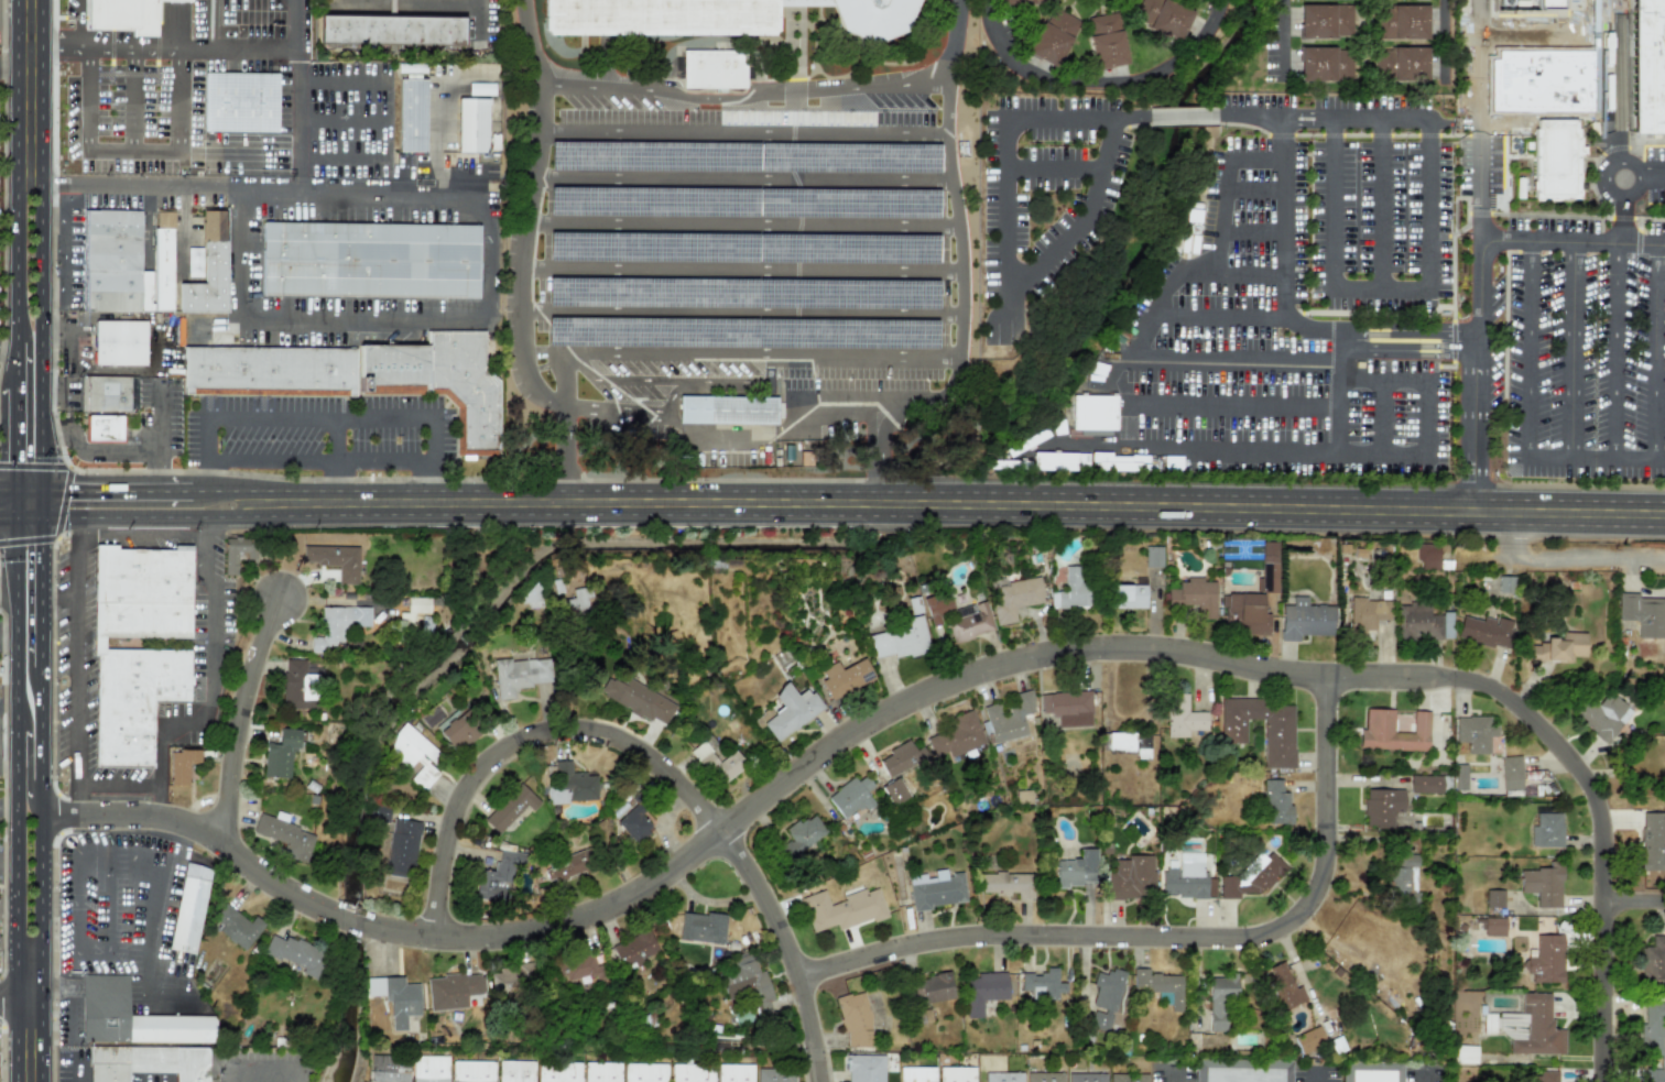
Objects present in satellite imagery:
building: (438, 1)
building: (1026, 1)
building: (1548, 3)
building: (123, 15)
road: (478, 17)
building: (1162, 17)
building: (660, 19)
building: (875, 20)
building: (1325, 21)
building: (1403, 22)
road: (213, 24)
building: (392, 33)
road: (1283, 35)
building: (1053, 37)
building: (1107, 40)
road: (1523, 40)
road: (532, 41)
road: (954, 41)
road: (1444, 41)
road: (1479, 45)
road: (121, 50)
road: (11, 62)
road: (1566, 62)
building: (1325, 64)
building: (1401, 64)
building: (1648, 67)
building: (712, 69)
road: (1097, 81)
road: (341, 83)
building: (480, 88)
road: (22, 91)
road: (44, 91)
road: (1503, 91)
road: (296, 96)
road: (743, 100)
road: (132, 102)
building: (240, 105)
road: (1166, 114)
building: (411, 116)
road: (1277, 116)
road: (1429, 119)
road: (342, 121)
building: (471, 125)
road: (743, 140)
road: (1281, 141)
road: (165, 155)
road: (340, 159)
building: (1555, 159)
road: (1617, 159)
road: (1480, 167)
road: (1054, 168)
road: (1654, 176)
road: (740, 181)
road: (33, 183)
road: (280, 190)
road: (1228, 196)
road: (1383, 205)
road: (53, 217)
road: (1622, 221)
road: (739, 227)
road: (1281, 228)
road: (793, 230)
road: (1578, 243)
road: (1281, 254)
building: (163, 261)
building: (194, 262)
building: (371, 262)
road: (1006, 262)
building: (115, 263)
parking lot: (738, 263)
road: (22, 264)
road: (64, 264)
building: (208, 270)
road: (738, 275)
parking lot: (1303, 298)
road: (1218, 315)
road: (1153, 316)
road: (514, 319)
road: (367, 323)
road: (737, 323)
road: (1412, 330)
road: (68, 331)
building: (119, 342)
road: (44, 345)
road: (11, 346)
road: (1408, 350)
road: (1573, 350)
road: (1615, 350)
road: (1656, 351)
road: (853, 365)
road: (1528, 370)
road: (23, 371)
building: (269, 371)
road: (1474, 374)
building: (439, 381)
road: (59, 385)
building: (83, 393)
building: (107, 394)
building: (133, 394)
road: (1234, 405)
building: (727, 409)
building: (1092, 412)
road: (855, 416)
road: (318, 417)
road: (1379, 417)
road: (1427, 418)
building: (102, 428)
parking lot: (322, 435)
road: (432, 438)
road: (206, 441)
road: (23, 446)
road: (150, 451)
road: (1308, 452)
road: (1618, 458)
road: (271, 460)
road: (378, 460)
road: (425, 460)
building: (1054, 461)
road: (160, 479)
road: (337, 482)
road: (420, 482)
road: (206, 485)
road: (11, 493)
traffic signals: (23, 495)
road: (33, 501)
road: (855, 503)
road: (23, 507)
traffic signals: (44, 507)
road: (33, 513)
road: (11, 520)
traffic signals: (23, 520)
building: (236, 551)
building: (1152, 556)
building: (1427, 556)
building: (335, 559)
road: (1565, 560)
building: (1269, 565)
building: (1504, 583)
road: (44, 587)
building: (557, 587)
building: (1073, 588)
road: (11, 589)
building: (532, 595)
building: (1129, 595)
building: (1194, 595)
road: (63, 597)
building: (1013, 598)
building: (578, 601)
building: (414, 608)
building: (1368, 612)
building: (1243, 613)
building: (1642, 613)
building: (959, 616)
building: (1304, 619)
road: (22, 622)
building: (1422, 622)
road: (11, 623)
building: (337, 625)
building: (1484, 631)
building: (899, 640)
building: (1557, 647)
building: (519, 675)
building: (844, 677)
building: (141, 678)
building: (635, 698)
building: (1067, 707)
building: (788, 711)
building: (1601, 714)
road: (241, 717)
building: (1009, 717)
building: (1182, 717)
building: (1236, 718)
building: (458, 729)
building: (1374, 730)
building: (1473, 732)
building: (956, 735)
building: (1277, 736)
building: (1129, 743)
building: (280, 754)
building: (414, 755)
building: (900, 758)
road: (21, 761)
road: (654, 762)
building: (716, 763)
building: (181, 765)
road: (10, 766)
building: (1511, 773)
building: (1459, 776)
building: (570, 784)
building: (1425, 784)
road: (130, 791)
building: (893, 791)
building: (850, 796)
road: (76, 802)
building: (1275, 802)
road: (159, 805)
building: (1381, 806)
building: (509, 807)
road: (749, 812)
building: (633, 823)
building: (1546, 830)
building: (802, 834)
building: (285, 837)
building: (1652, 841)
building: (401, 848)
road: (10, 849)
road: (1606, 854)
building: (567, 865)
building: (1076, 870)
road: (41, 874)
building: (497, 876)
building: (1130, 876)
building: (1186, 877)
building: (1251, 877)
building: (1006, 884)
building: (1542, 884)
building: (936, 888)
building: (1493, 898)
road: (92, 901)
road: (1635, 903)
building: (187, 908)
building: (842, 909)
building: (236, 926)
building: (1493, 926)
building: (701, 927)
road: (19, 938)
road: (1173, 938)
road: (108, 946)
building: (633, 949)
building: (294, 953)
building: (1545, 959)
building: (1652, 960)
road: (148, 969)
building: (578, 970)
building: (512, 976)
building: (747, 982)
building: (1041, 984)
building: (1157, 985)
building: (1284, 986)
building: (929, 988)
building: (451, 990)
building: (983, 991)
road: (20, 996)
road: (70, 996)
building: (394, 997)
building: (1103, 998)
building: (1218, 999)
road: (146, 1007)
building: (131, 1016)
building: (853, 1019)
building: (1527, 1026)
building: (1652, 1027)
building: (1308, 1039)
building: (1465, 1053)
building: (146, 1062)
road: (250, 1067)
building: (863, 1068)
building: (388, 1069)
building: (428, 1069)
building: (1241, 1070)
building: (471, 1071)
building: (514, 1071)
building: (600, 1071)
building: (1372, 1071)
building: (557, 1072)
building: (644, 1072)
building: (690, 1072)
building: (733, 1072)
road: (78, 1073)
building: (956, 1073)
road: (298, 1074)
building: (774, 1074)
building: (916, 1074)
building: (1652, 1075)
building: (1002, 1076)
building: (1044, 1076)
building: (1086, 1076)
building: (1546, 1076)
building: (1128, 1078)
road: (1169, 1079)
road: (1316, 1079)
road: (1422, 1081)

